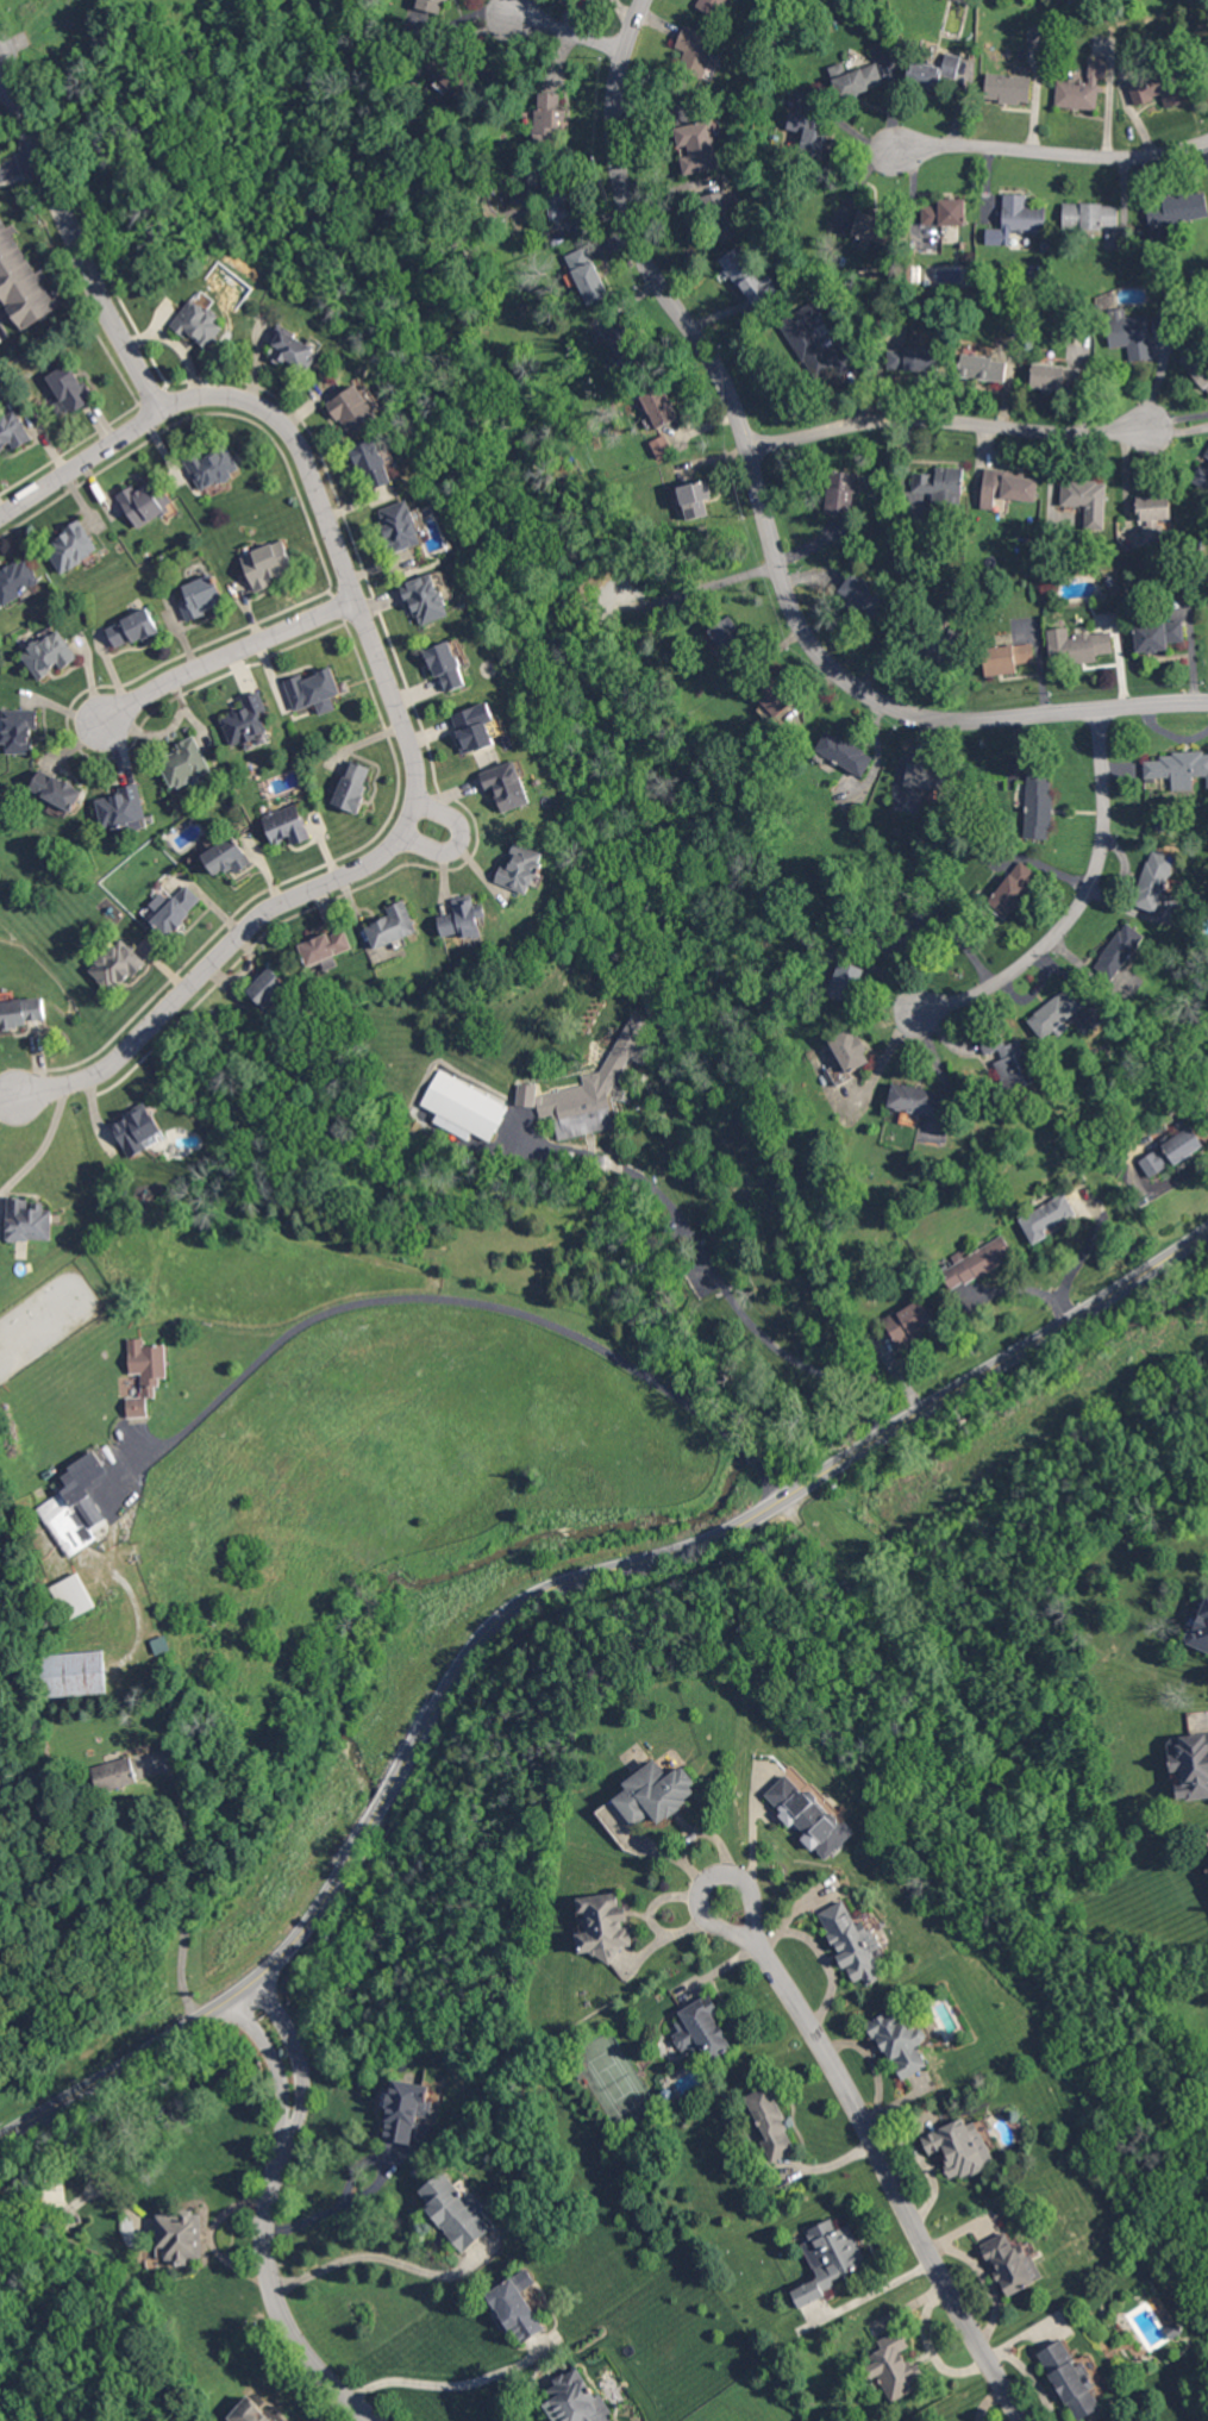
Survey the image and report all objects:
building: (430, 5)
building: (714, 6)
water tower: (48, 31)
road: (571, 32)
building: (1037, 35)
building: (696, 50)
building: (933, 71)
building: (856, 79)
road: (4, 83)
building: (1007, 87)
building: (1082, 87)
building: (1157, 88)
building: (550, 112)
building: (808, 133)
building: (697, 146)
road: (1054, 159)
road: (19, 162)
building: (556, 195)
building: (0, 204)
building: (1177, 208)
building: (1090, 214)
building: (1016, 219)
building: (859, 221)
building: (940, 223)
road: (73, 238)
building: (587, 275)
building: (750, 279)
building: (20, 287)
building: (200, 320)
building: (1131, 334)
building: (624, 343)
building: (292, 348)
building: (912, 357)
building: (983, 367)
building: (1056, 376)
building: (69, 387)
building: (658, 406)
building: (353, 408)
road: (947, 423)
building: (12, 431)
building: (661, 446)
building: (374, 463)
building: (213, 467)
building: (1202, 473)
building: (939, 484)
building: (1007, 487)
building: (840, 493)
building: (695, 498)
building: (1087, 499)
building: (142, 502)
building: (1152, 518)
road: (762, 521)
building: (401, 525)
building: (70, 546)
building: (267, 563)
building: (17, 580)
building: (201, 595)
building: (863, 595)
building: (427, 599)
building: (132, 627)
building: (725, 634)
building: (1158, 634)
building: (946, 643)
building: (1077, 645)
road: (226, 649)
building: (49, 653)
building: (1007, 657)
building: (447, 665)
building: (314, 690)
road: (396, 692)
building: (771, 702)
building: (245, 719)
building: (475, 727)
building: (18, 730)
building: (844, 752)
building: (184, 763)
building: (1178, 768)
building: (930, 775)
building: (353, 786)
building: (508, 786)
building: (56, 789)
building: (1038, 805)
building: (120, 808)
building: (286, 824)
road: (464, 836)
building: (226, 856)
building: (521, 868)
building: (1153, 881)
building: (1012, 889)
road: (1077, 905)
building: (171, 908)
building: (463, 918)
building: (392, 925)
building: (905, 931)
building: (325, 949)
building: (1118, 950)
building: (117, 965)
building: (845, 980)
building: (267, 987)
building: (20, 1012)
building: (1054, 1013)
building: (850, 1049)
building: (1010, 1061)
building: (589, 1088)
road: (8, 1090)
building: (462, 1107)
building: (921, 1108)
road: (39, 1143)
building: (1171, 1151)
building: (1045, 1216)
building: (30, 1220)
road: (1079, 1255)
building: (977, 1263)
road: (719, 1280)
road: (467, 1301)
building: (908, 1321)
building: (145, 1372)
building: (76, 1506)
road: (693, 1546)
building: (74, 1595)
building: (1200, 1627)
building: (161, 1644)
building: (74, 1672)
building: (1190, 1764)
building: (114, 1773)
building: (656, 1793)
building: (809, 1816)
road: (753, 1839)
road: (188, 1889)
building: (605, 1926)
building: (851, 1941)
building: (701, 2028)
building: (901, 2041)
road: (146, 2051)
building: (408, 2113)
building: (771, 2126)
building: (959, 2146)
road: (884, 2159)
road: (324, 2210)
building: (457, 2213)
road: (268, 2215)
building: (182, 2238)
road: (376, 2254)
building: (828, 2258)
building: (1010, 2263)
building: (518, 2311)
building: (894, 2366)
building: (1068, 2370)
park: (209, 2377)
road: (445, 2383)
building: (577, 2401)
building: (254, 2413)

